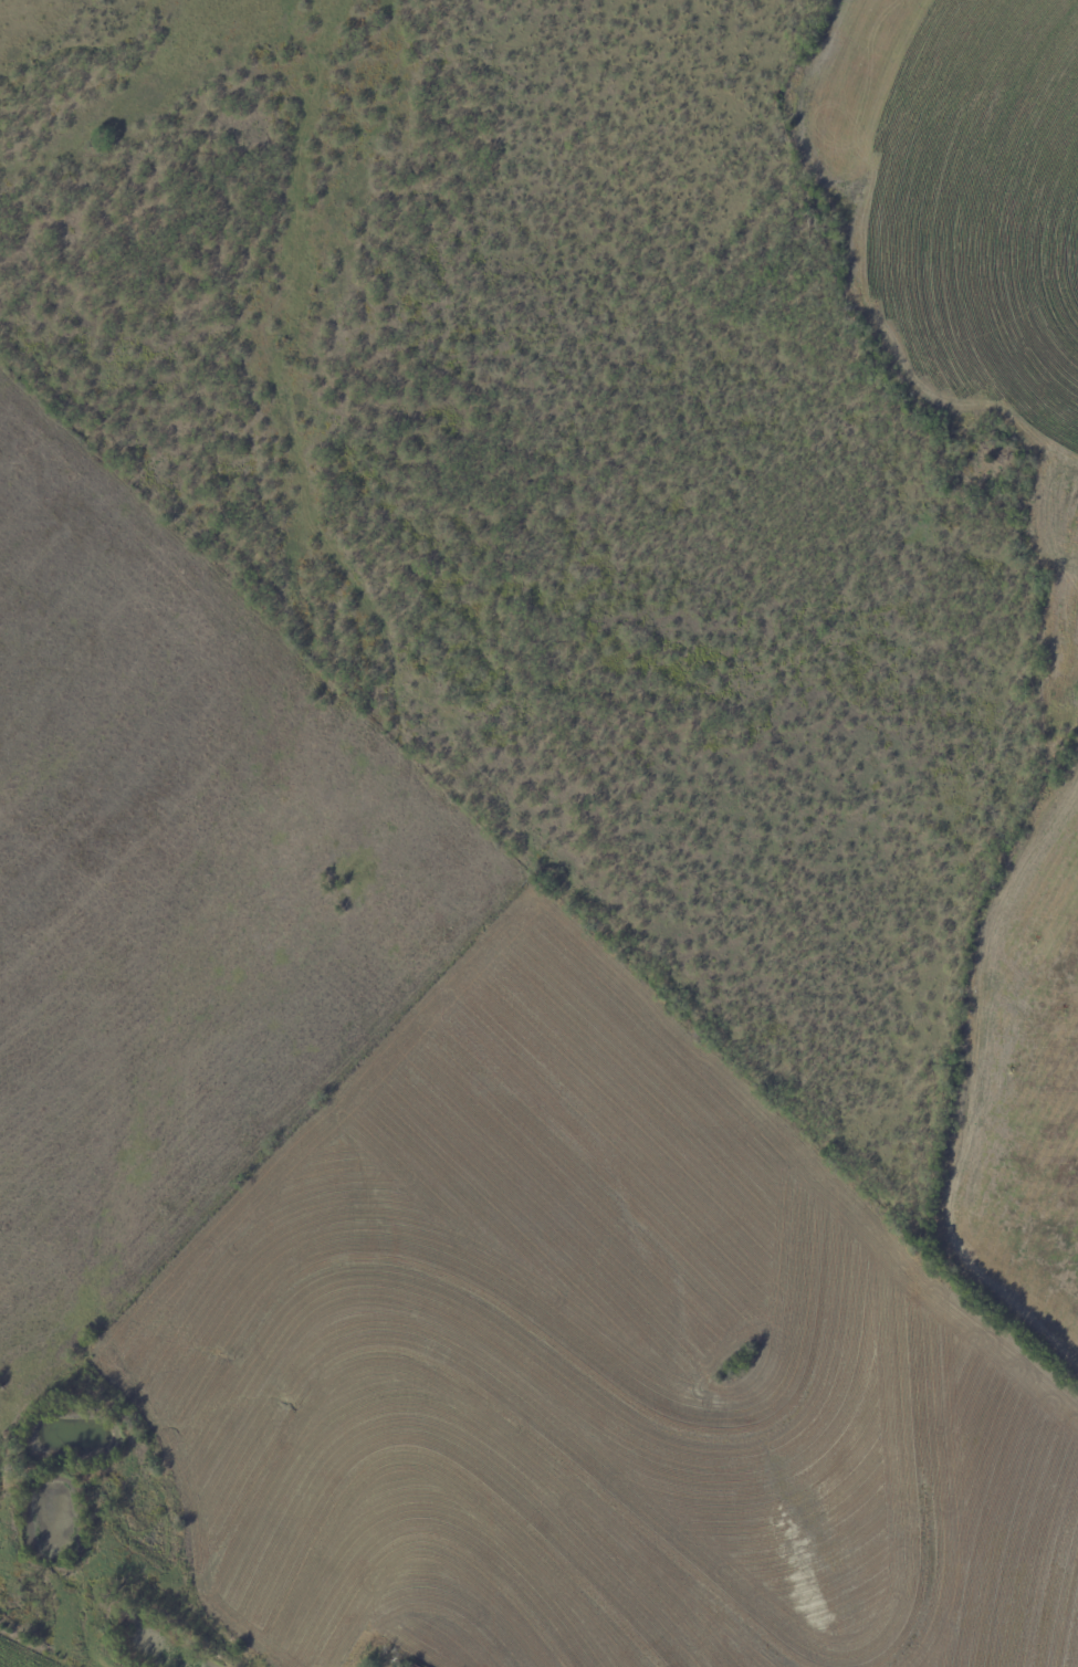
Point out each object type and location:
building: (416, 1666)

